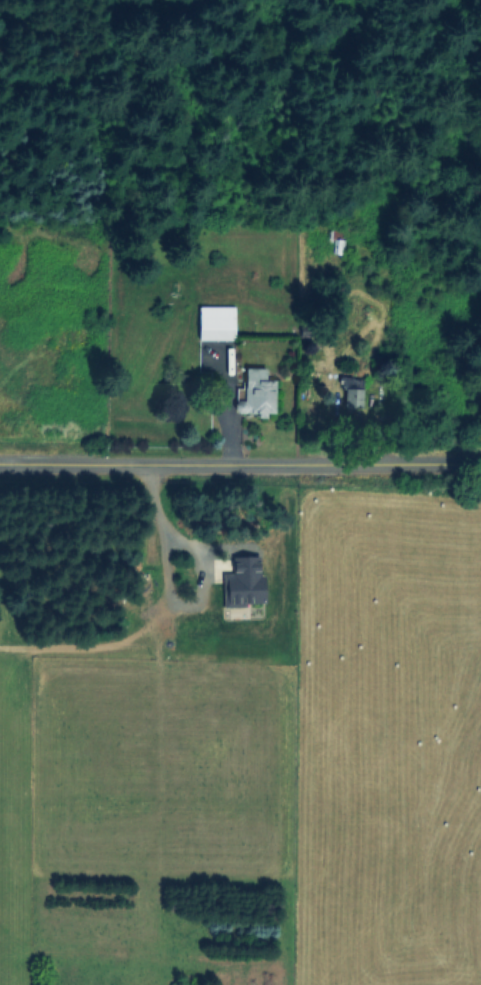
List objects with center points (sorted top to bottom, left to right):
building: (338, 245)
building: (219, 322)
building: (259, 391)
building: (353, 392)
road: (240, 464)
building: (235, 590)
road: (169, 596)

